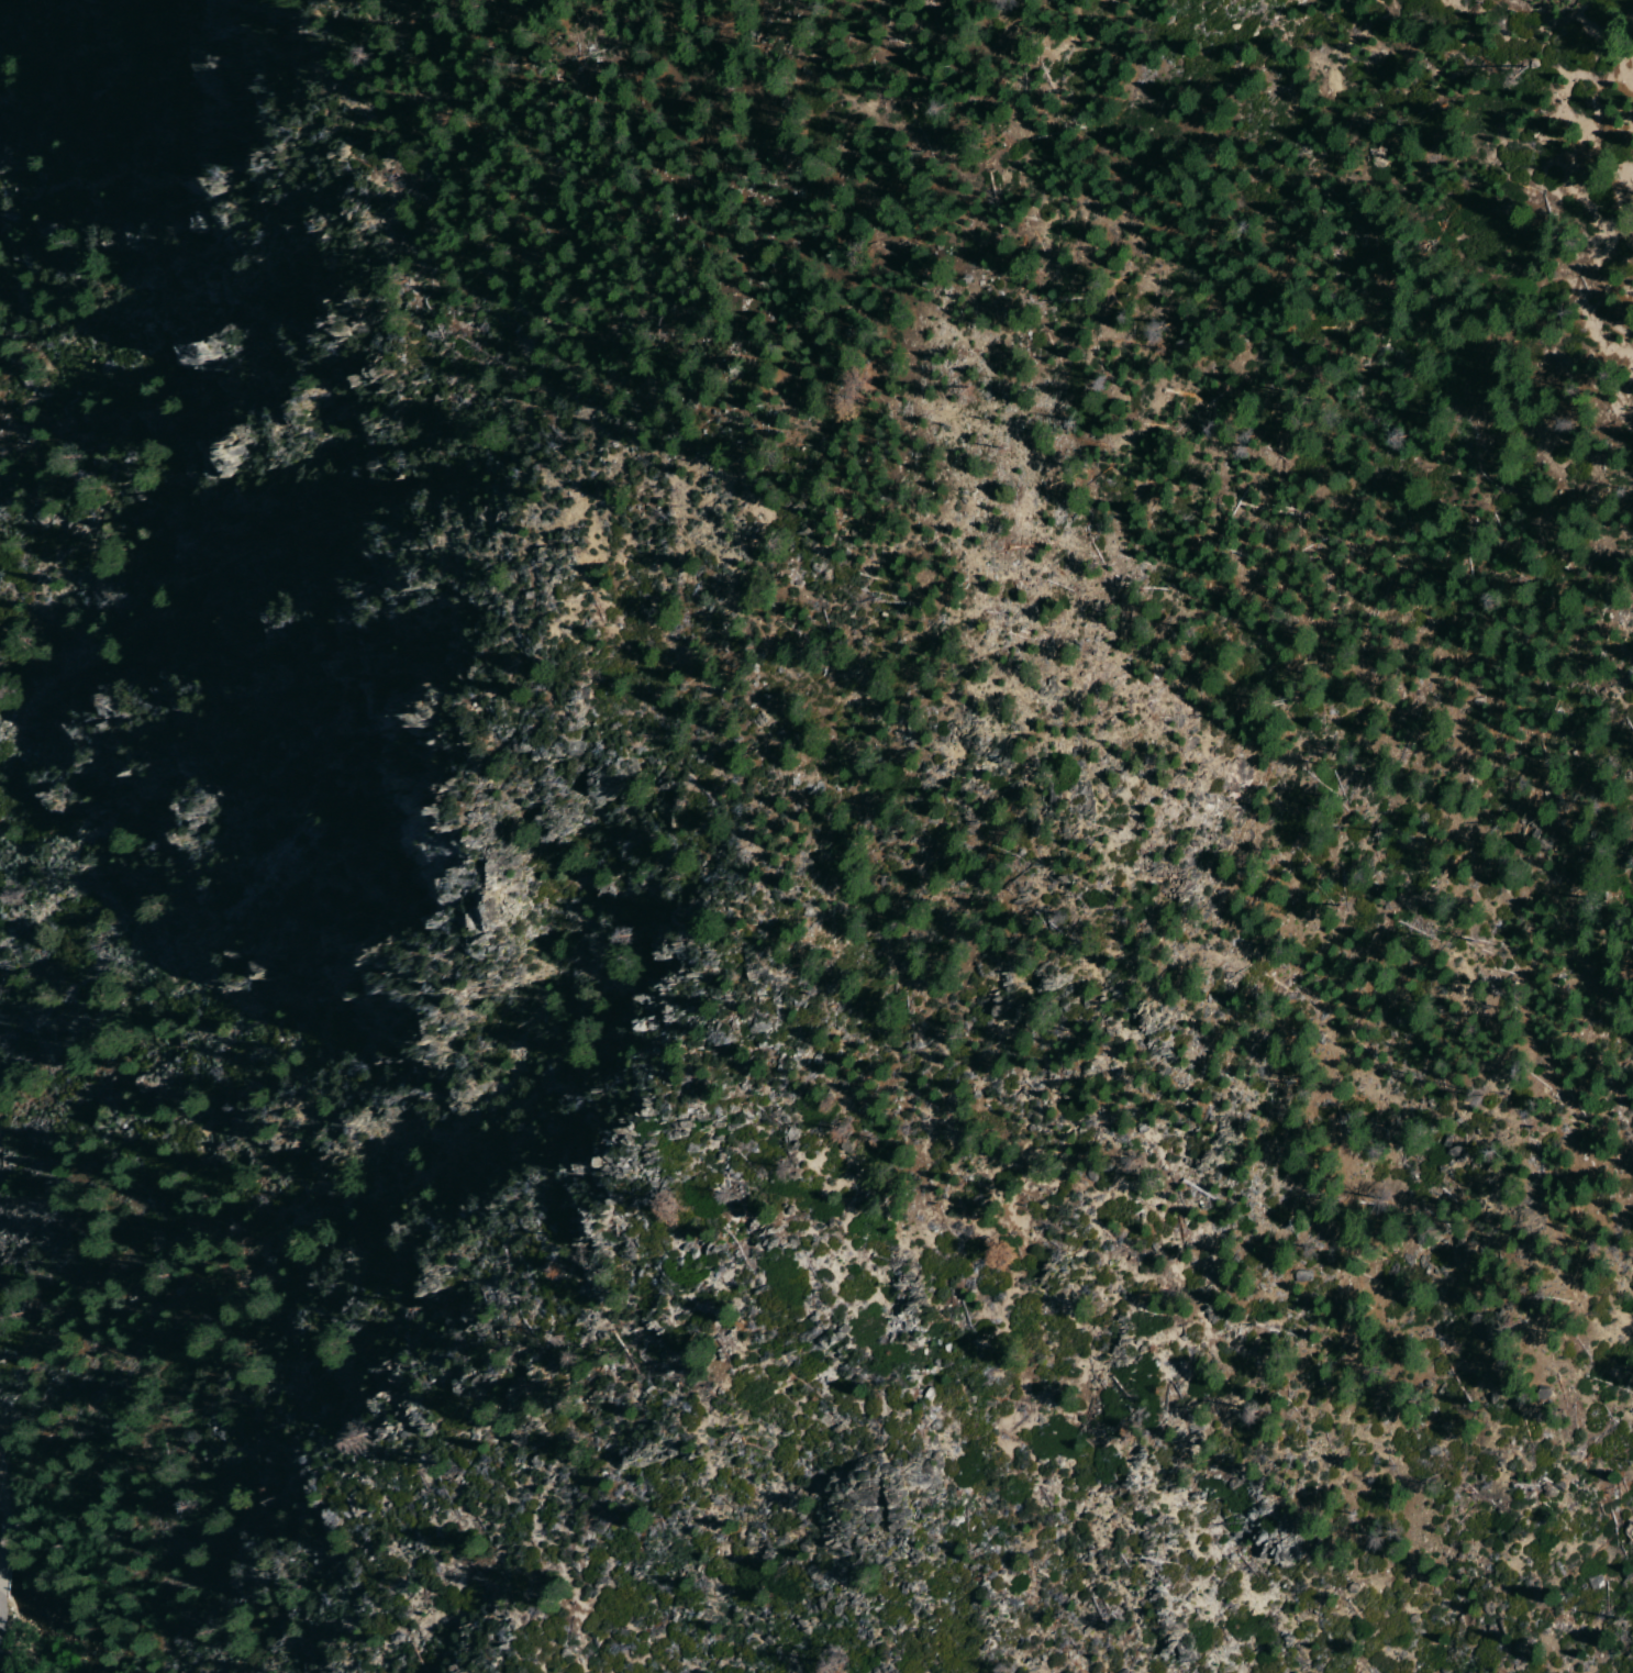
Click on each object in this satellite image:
road: (1, 1526)
road: (1, 1541)
river: (40, 1605)

